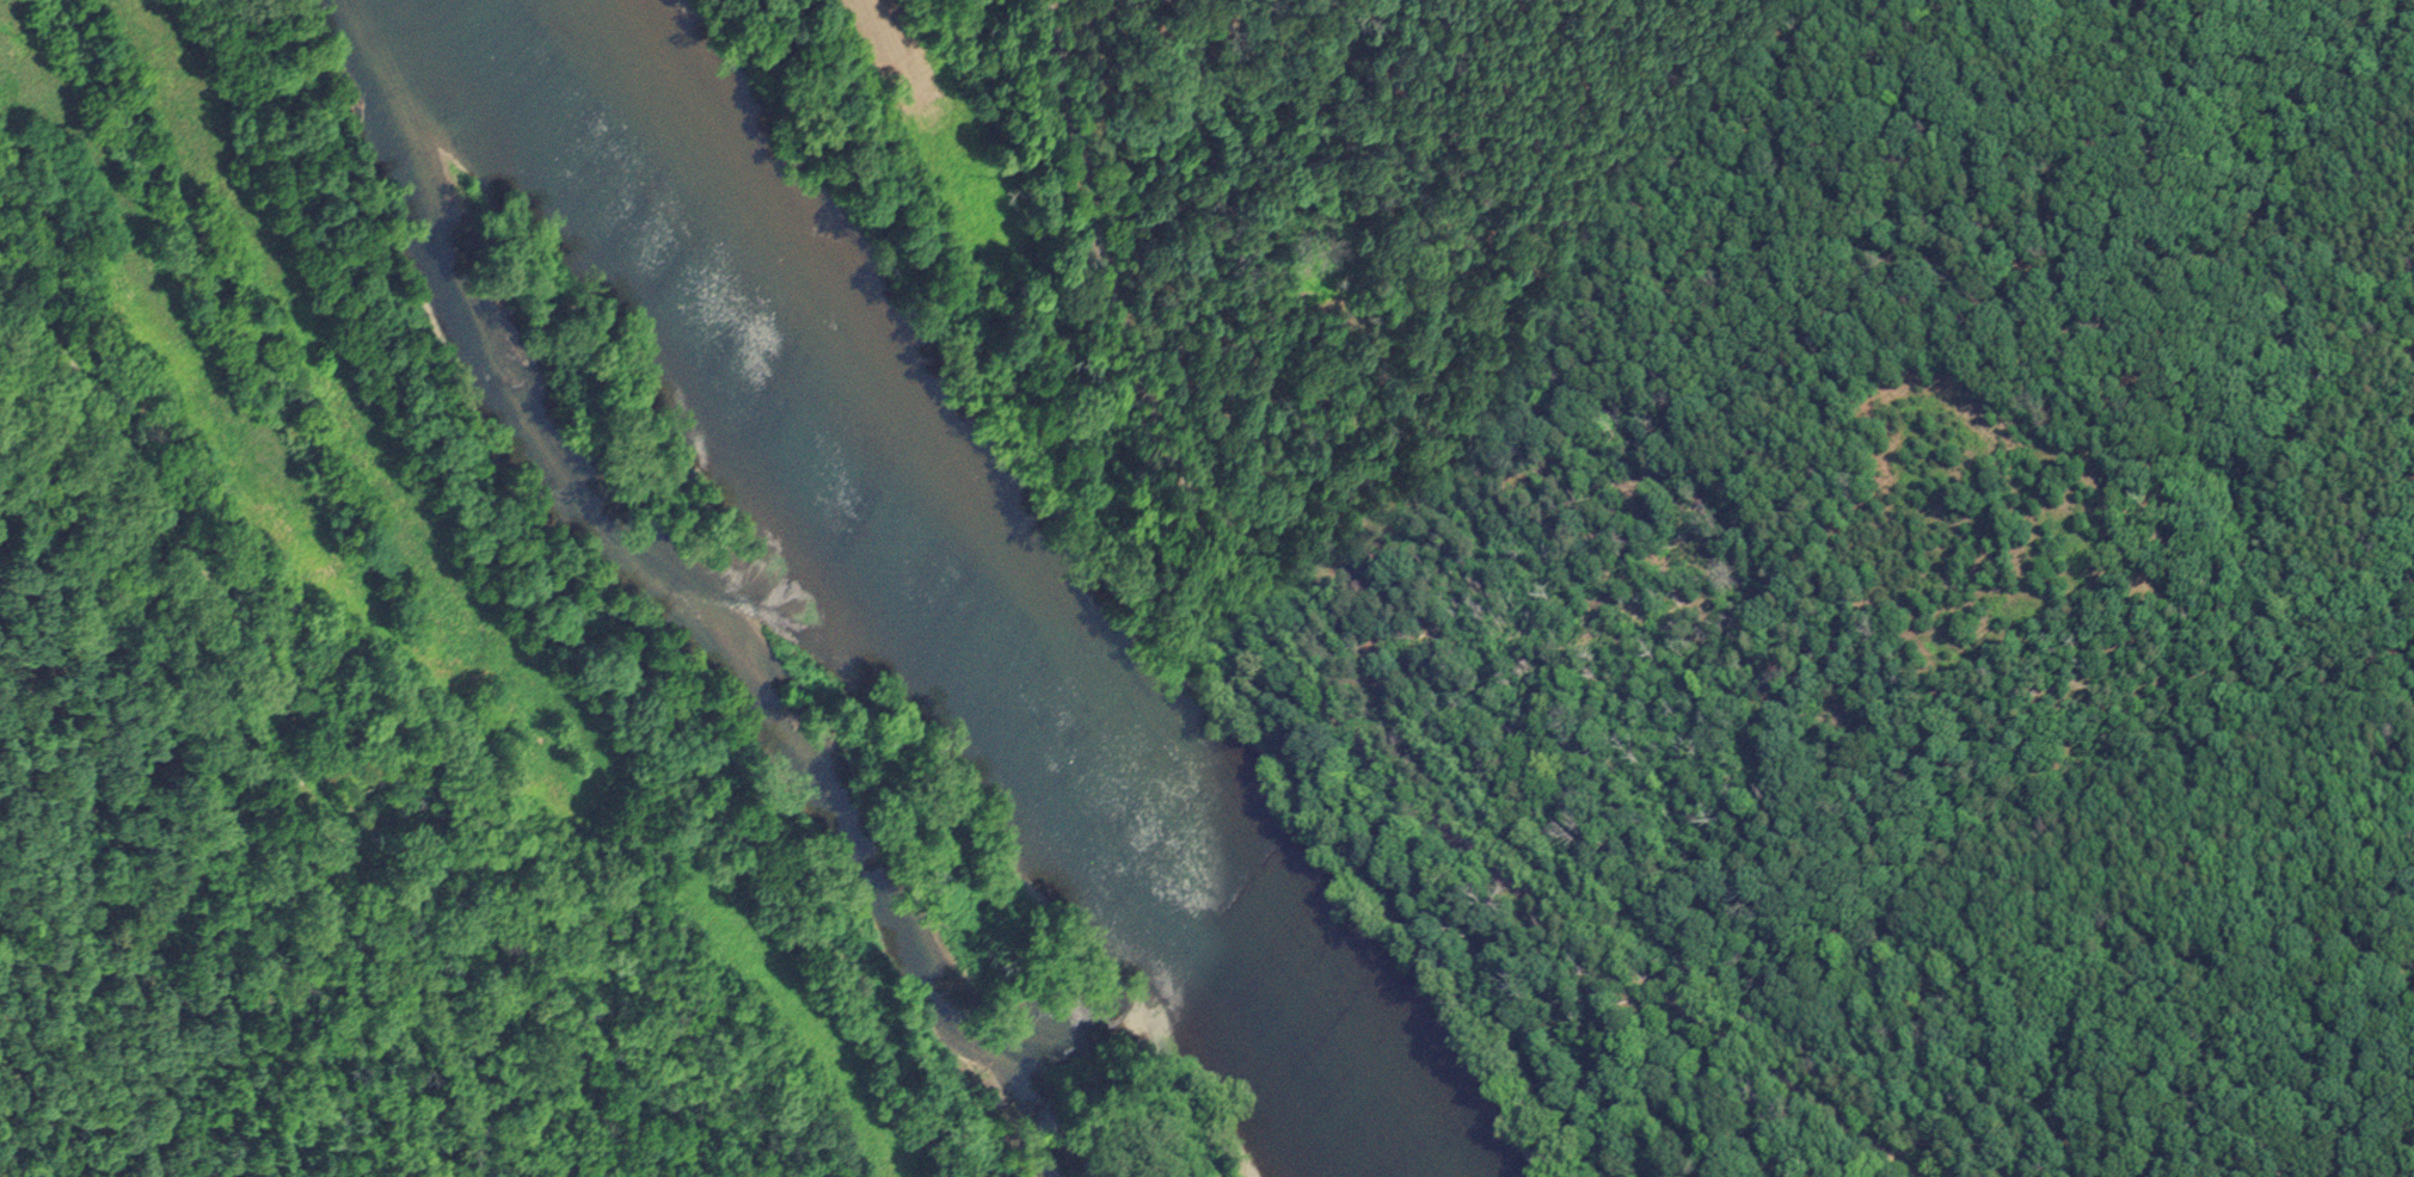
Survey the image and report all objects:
river: (966, 585)
road: (1321, 696)
road: (293, 716)

